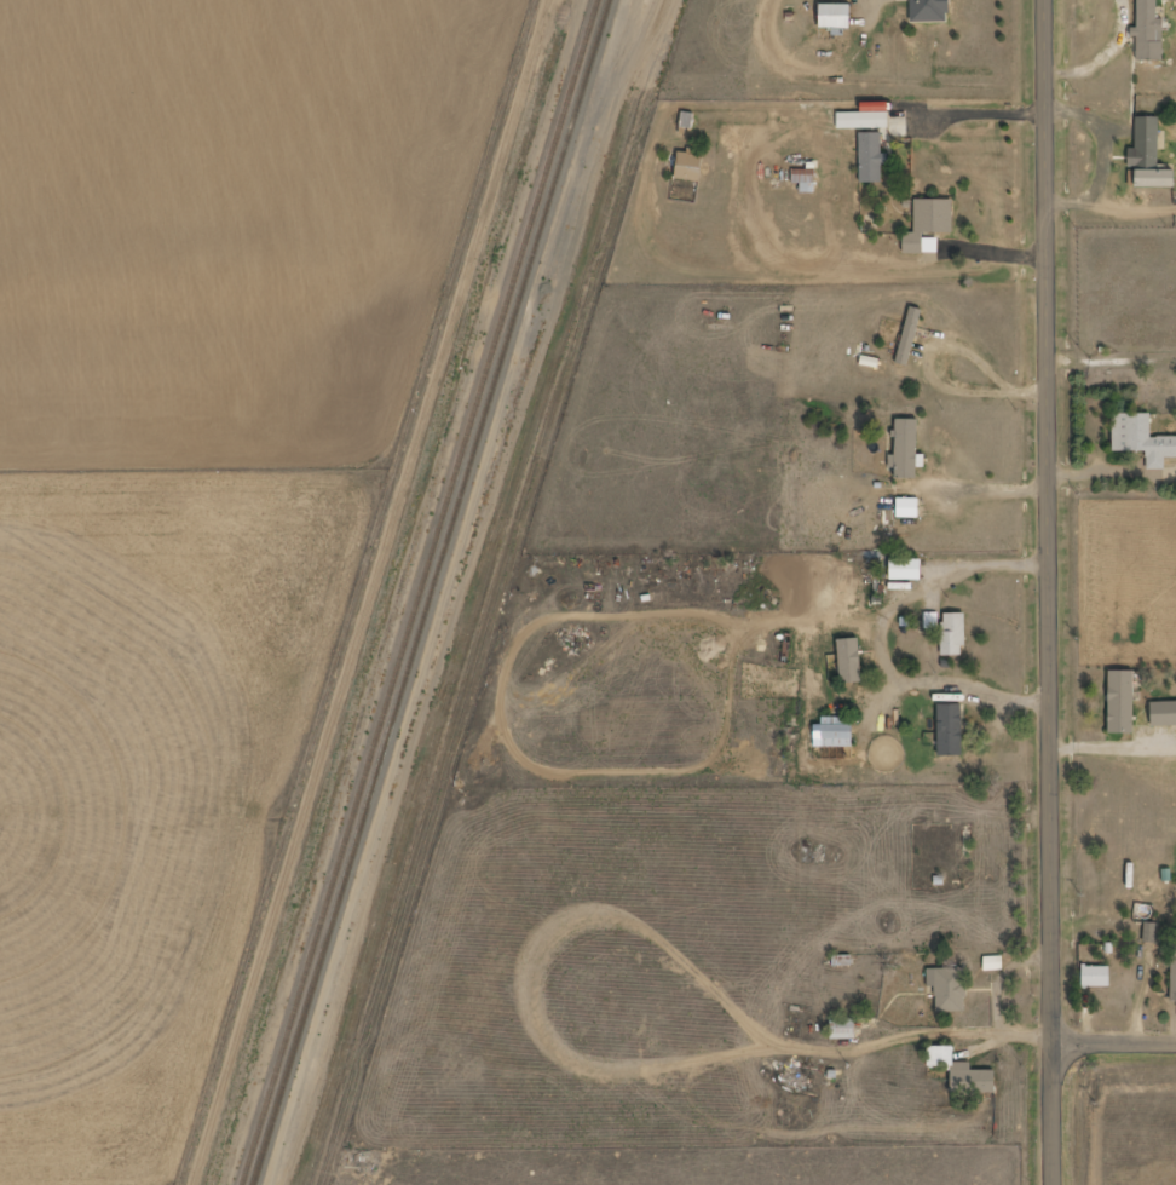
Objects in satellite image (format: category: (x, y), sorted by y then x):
building: (1169, 0)
building: (928, 11)
building: (834, 17)
building: (1147, 31)
building: (876, 115)
building: (1147, 156)
building: (870, 157)
building: (687, 166)
building: (928, 225)
building: (907, 336)
building: (1141, 439)
building: (905, 448)
building: (907, 507)
building: (907, 569)
railway: (421, 592)
railway: (433, 592)
road: (1049, 592)
building: (953, 633)
building: (851, 660)
building: (1122, 701)
building: (1164, 713)
building: (950, 729)
building: (835, 732)
building: (1149, 932)
building: (993, 962)
building: (1096, 976)
building: (1174, 976)
building: (949, 989)
building: (843, 1028)
road: (1113, 1040)
building: (963, 1072)

